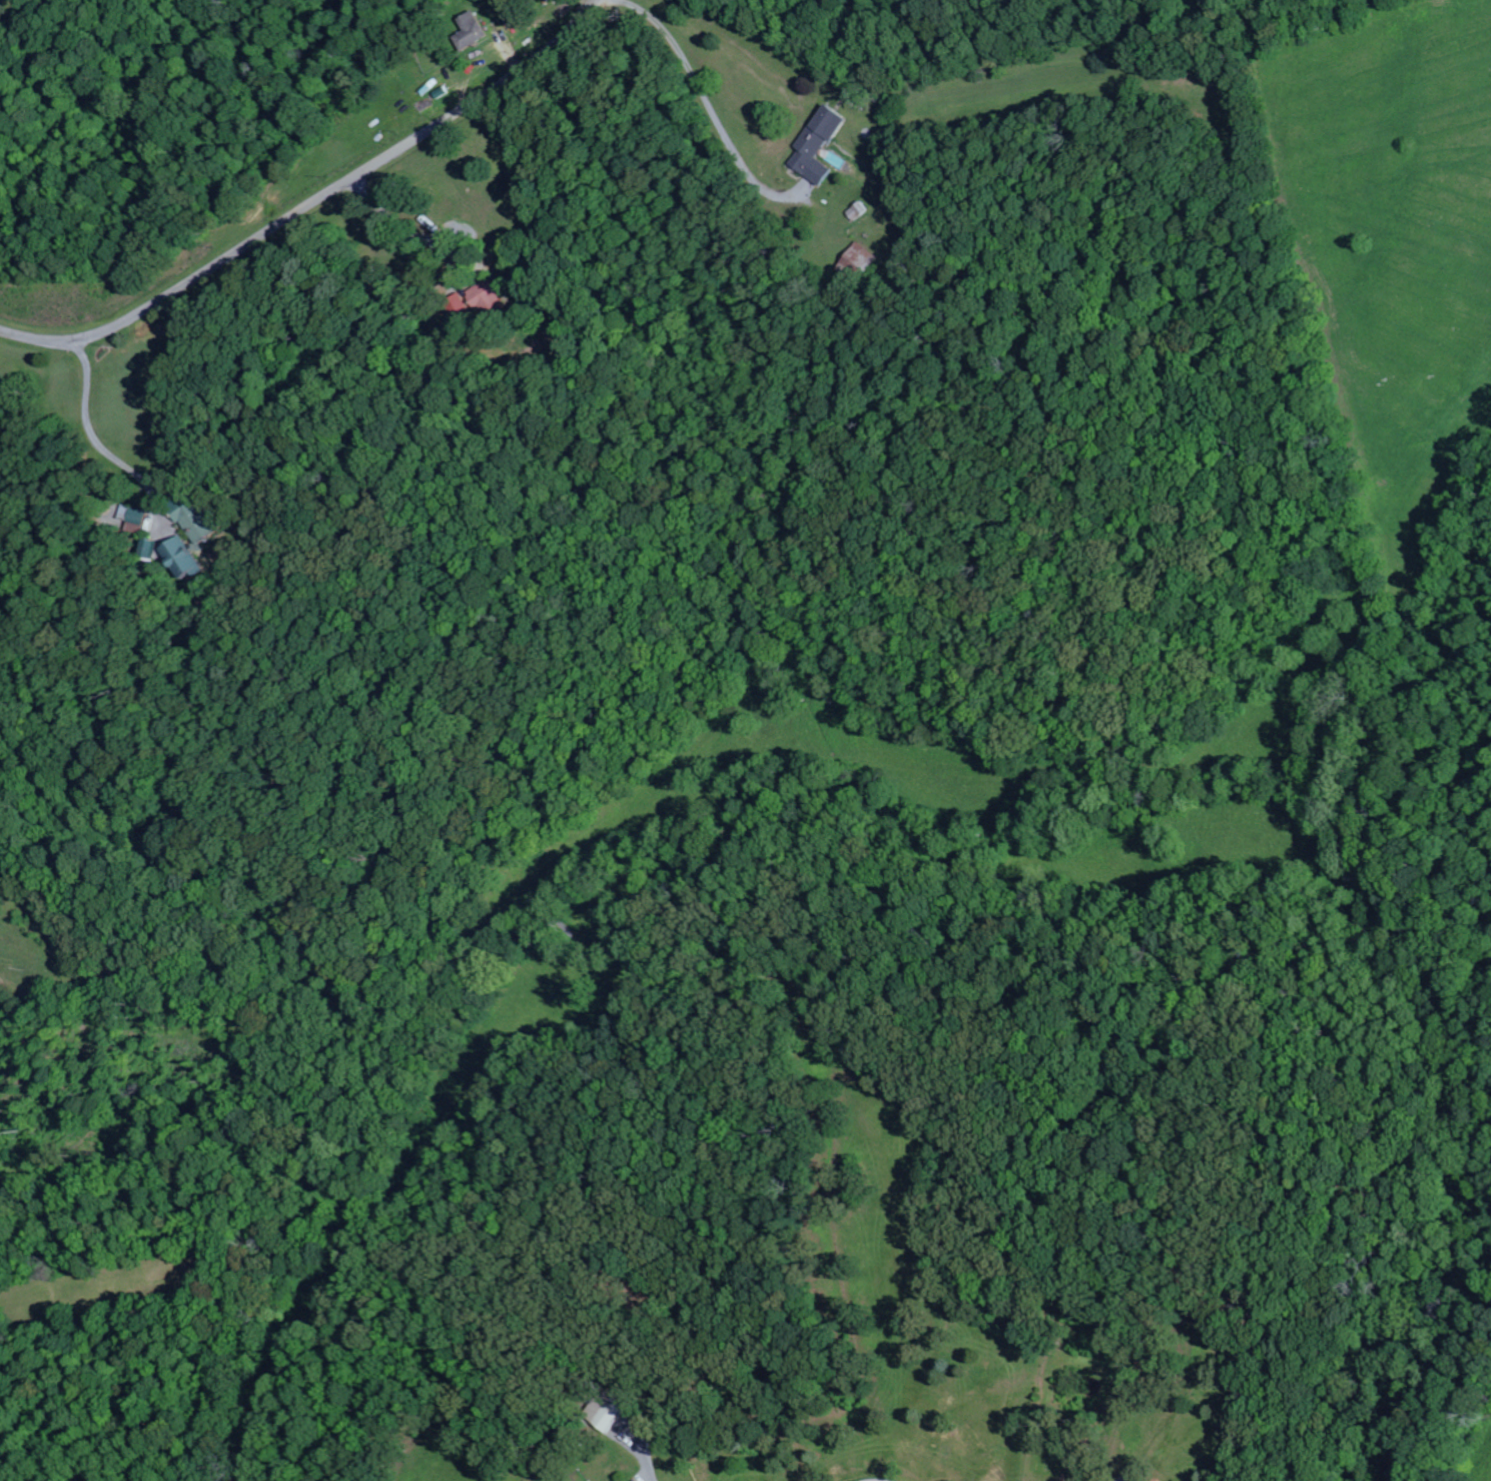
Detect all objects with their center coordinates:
building: (470, 32)
building: (818, 145)
road: (316, 207)
building: (860, 211)
building: (865, 264)
building: (196, 519)
building: (154, 549)
building: (186, 559)
building: (610, 1412)

